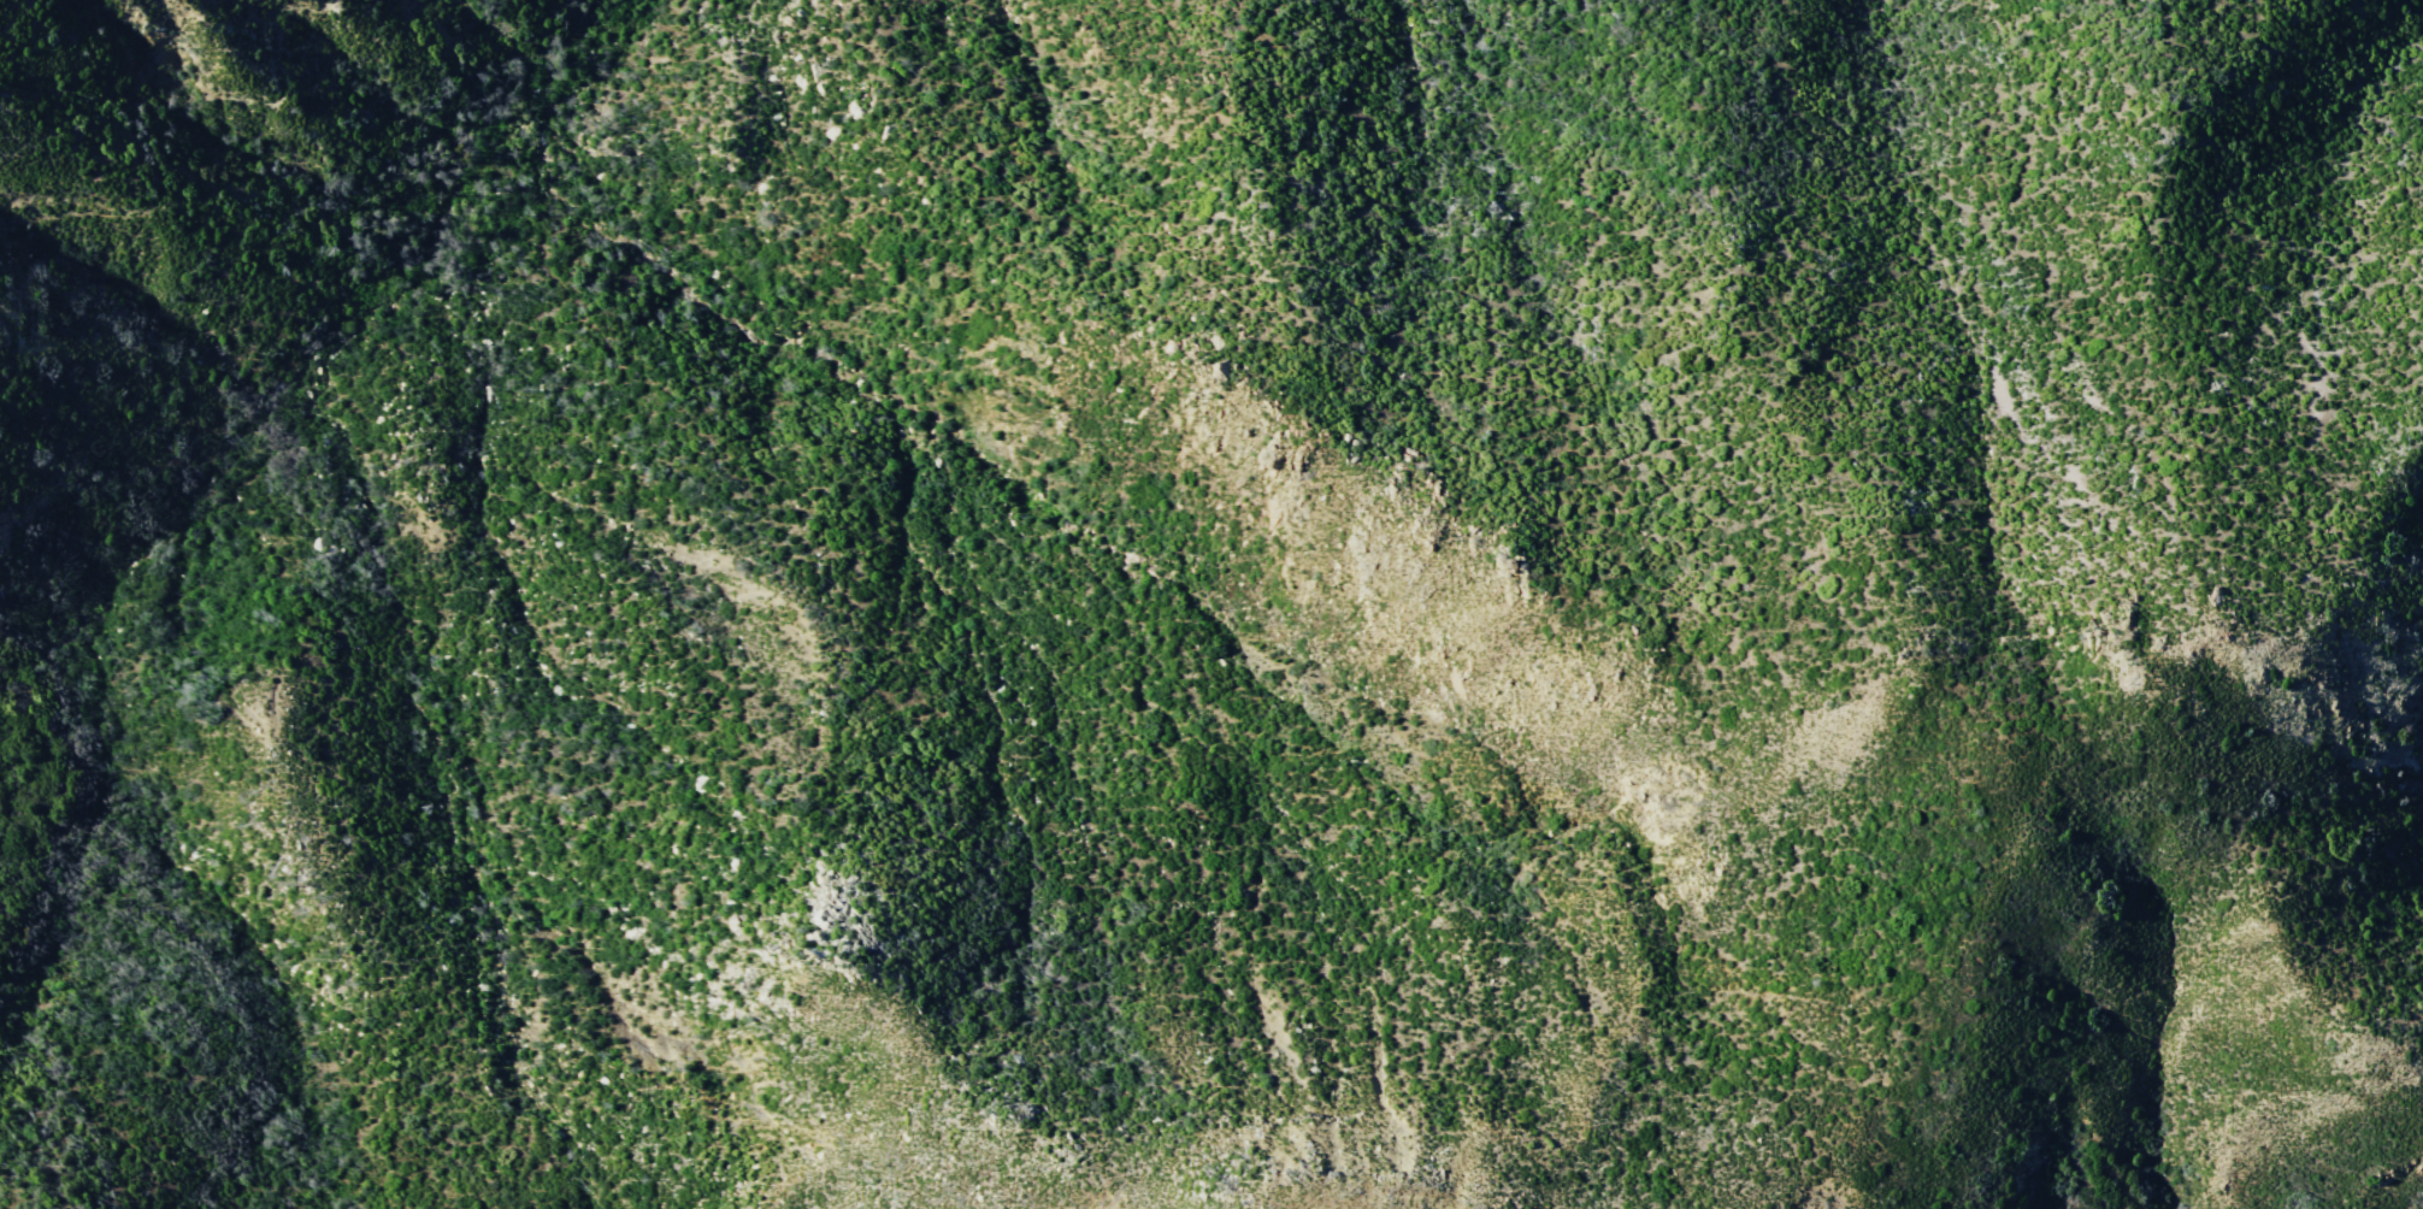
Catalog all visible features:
road: (153, 154)

